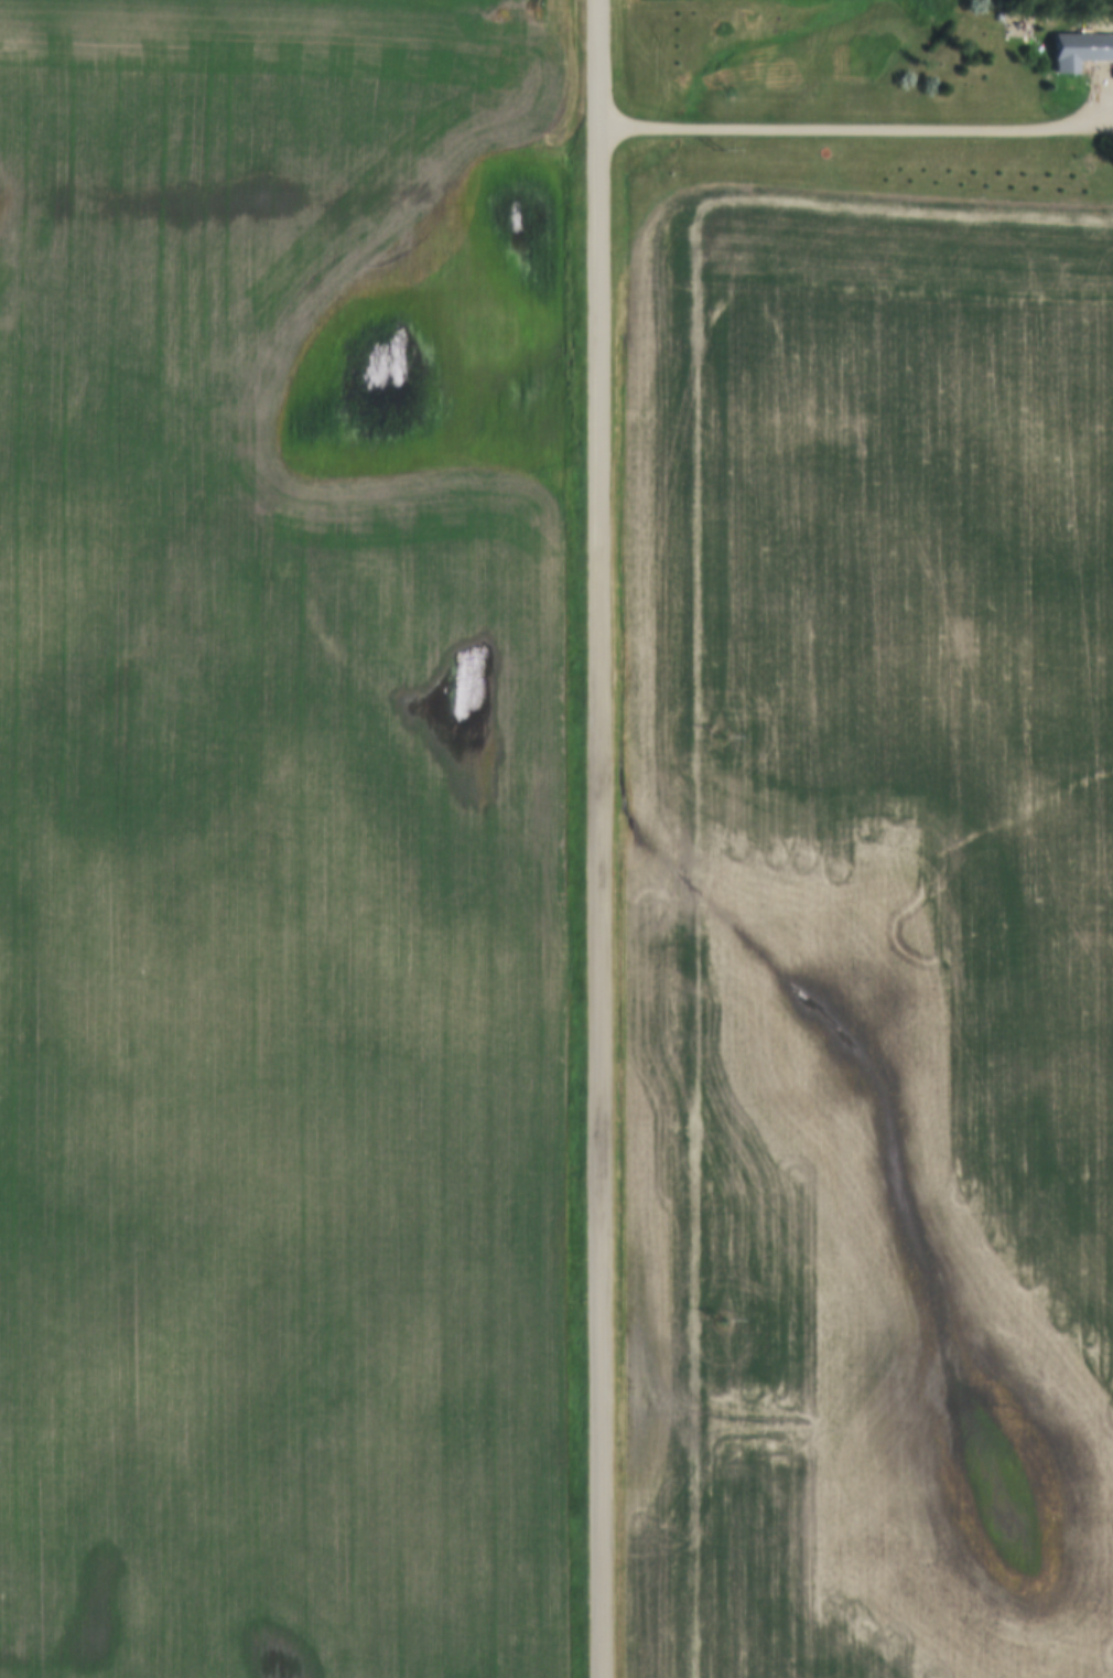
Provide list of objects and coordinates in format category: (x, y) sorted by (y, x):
building: (1076, 50)
road: (858, 133)
power tower: (717, 149)
power tower: (720, 733)
road: (599, 838)
power tower: (721, 1319)

